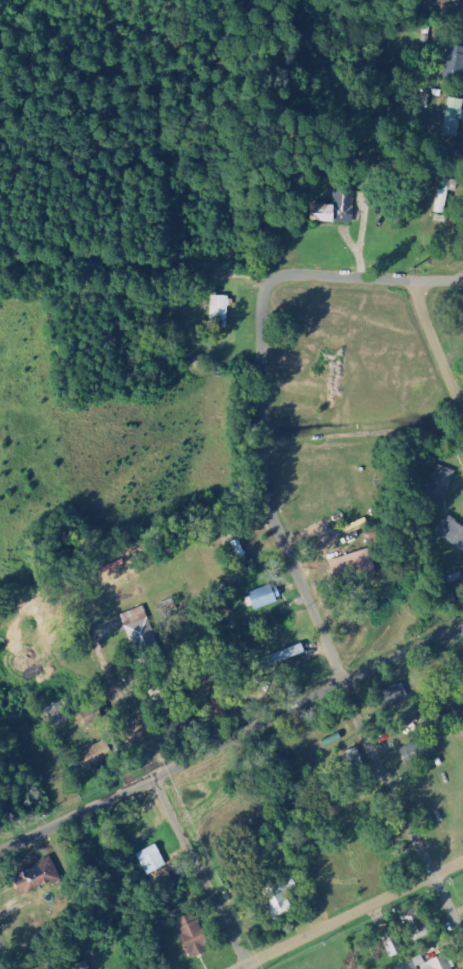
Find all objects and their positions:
road: (363, 280)
road: (438, 345)
road: (319, 621)
road: (229, 742)
road: (200, 871)
road: (360, 917)
road: (6, 955)

